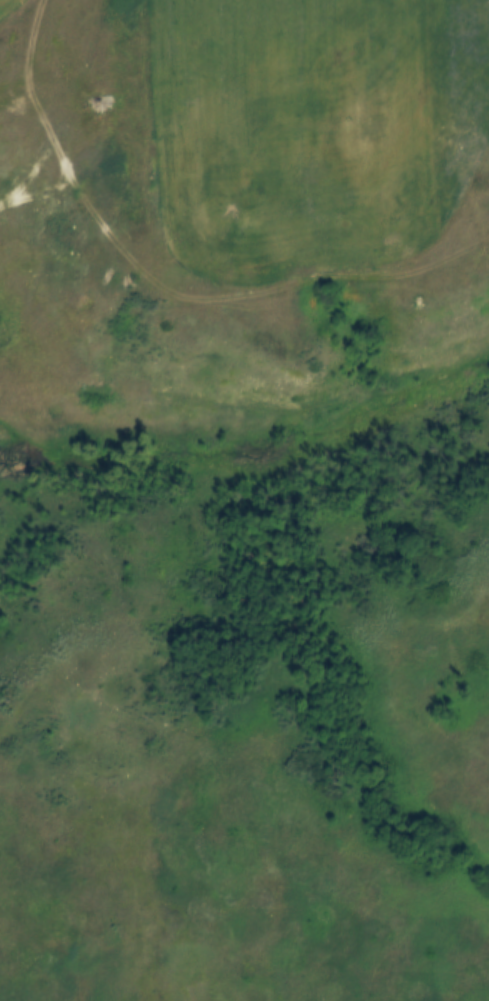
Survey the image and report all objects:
road: (13, 11)
building: (95, 103)
road: (48, 128)

